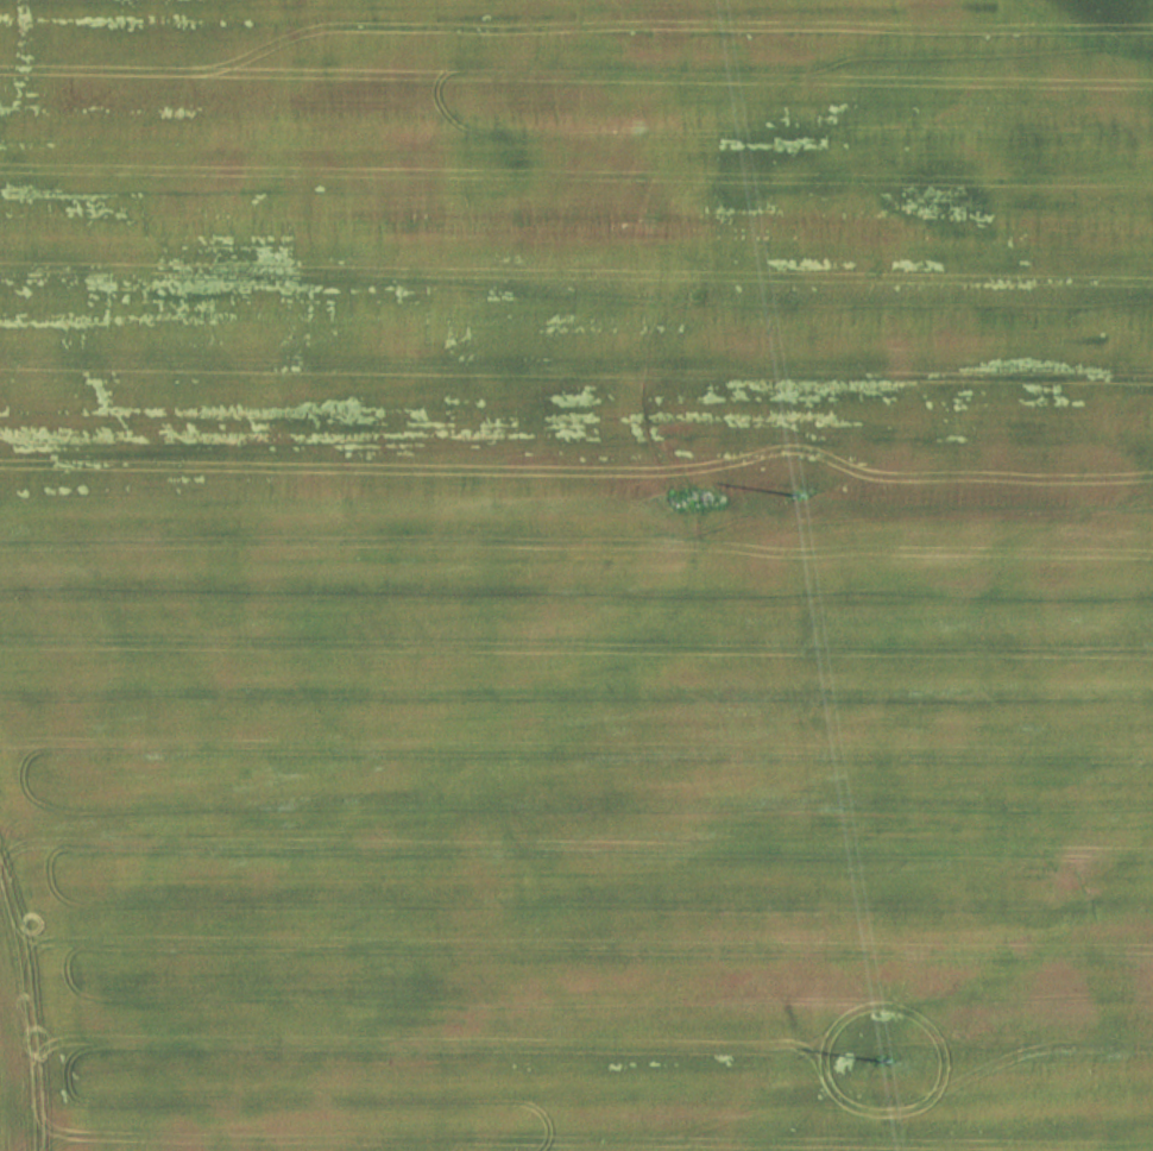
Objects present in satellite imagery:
power tower: (793, 496)
power tower: (872, 1062)

